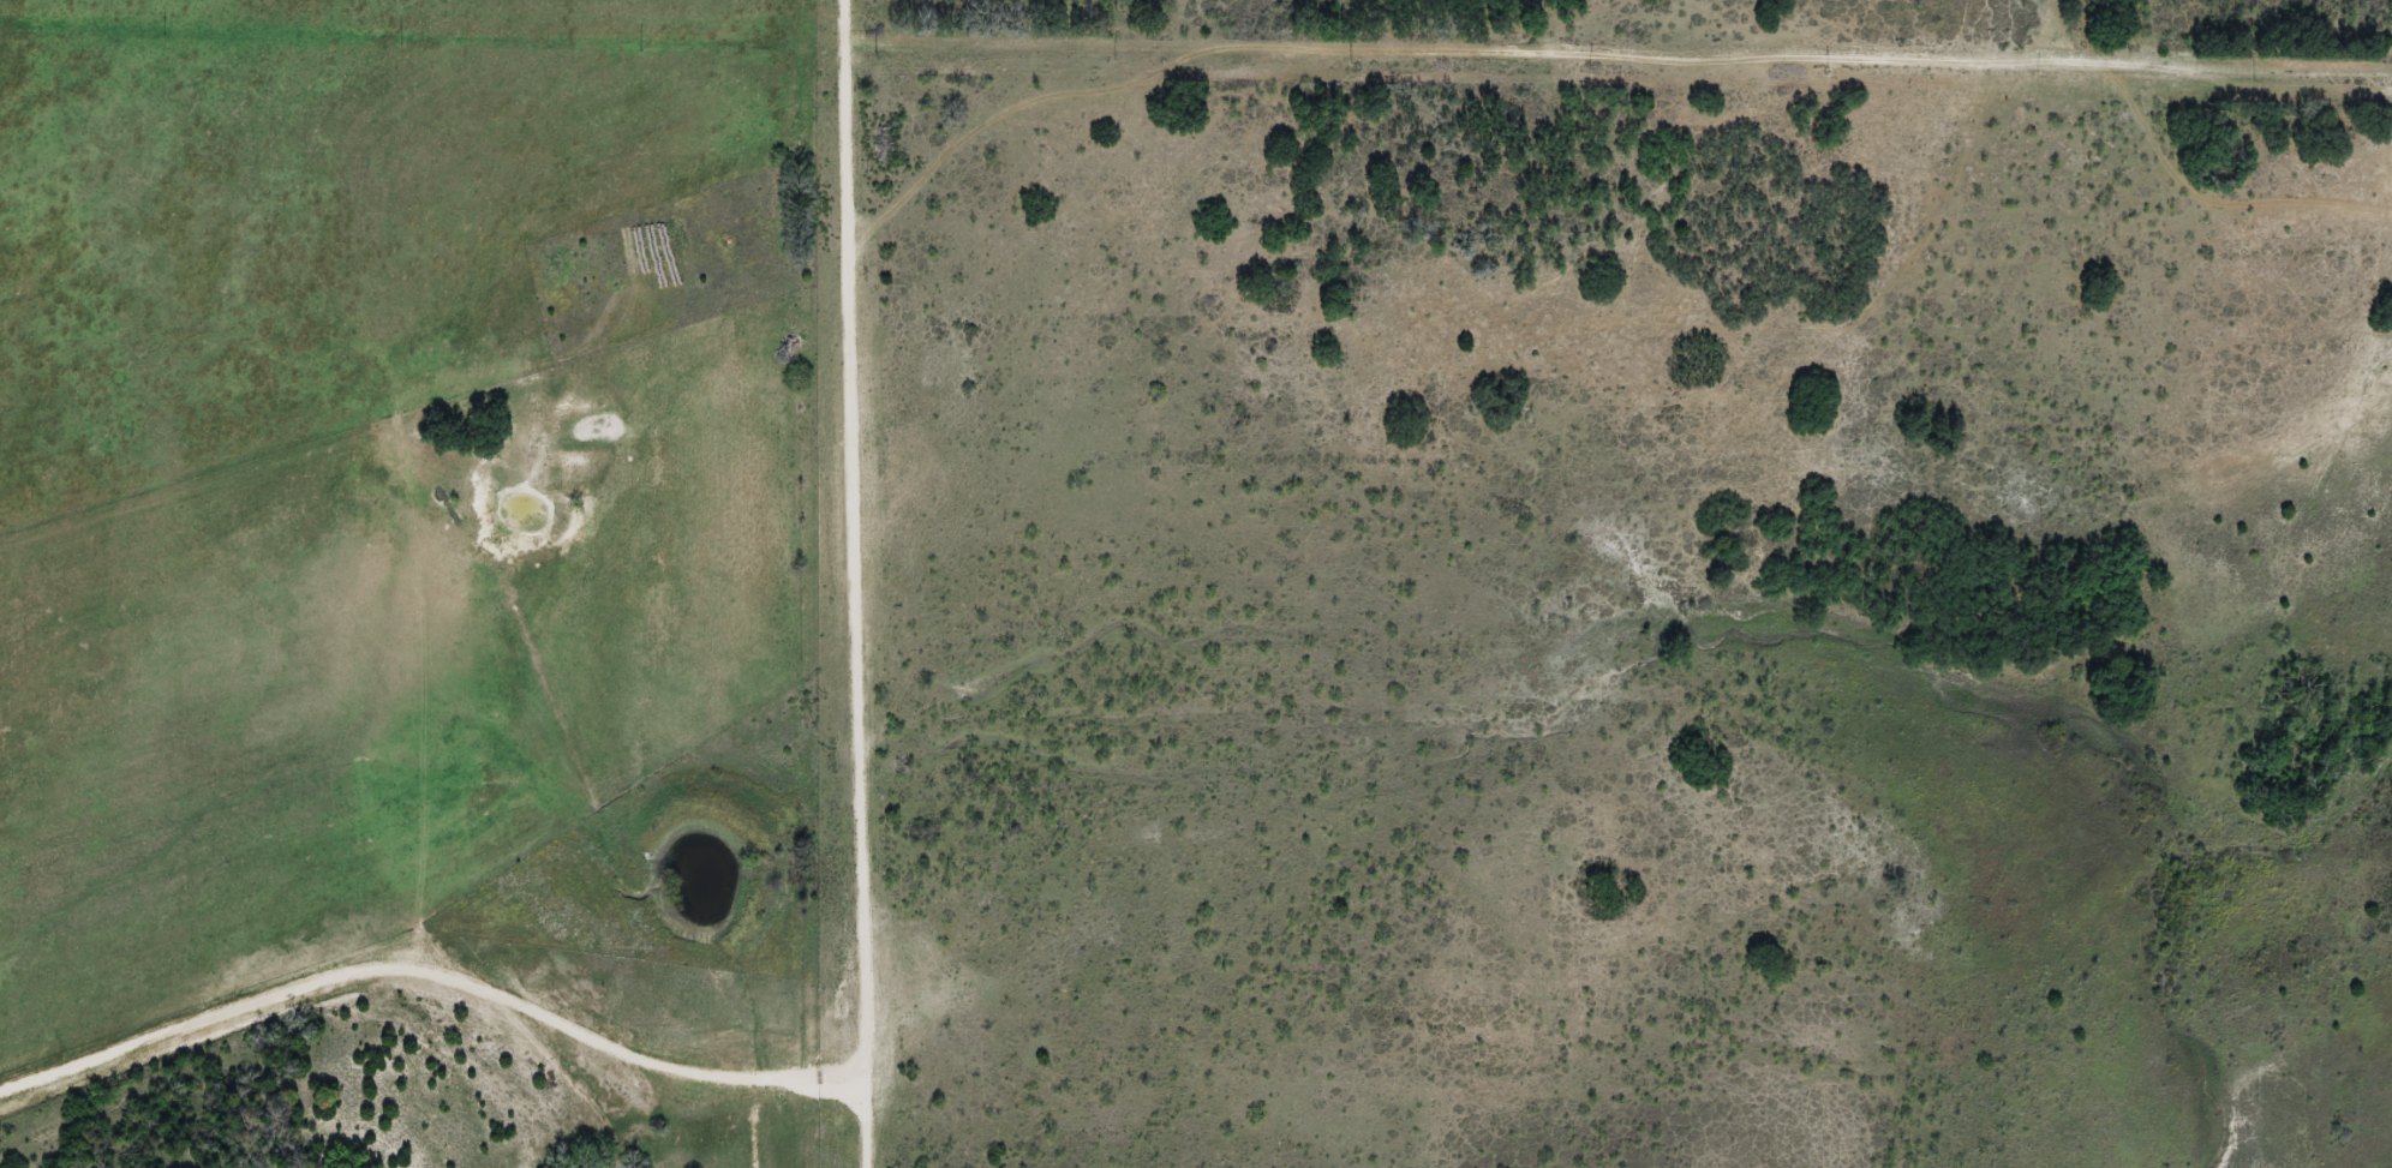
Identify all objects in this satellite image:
road: (855, 583)
road: (429, 968)

